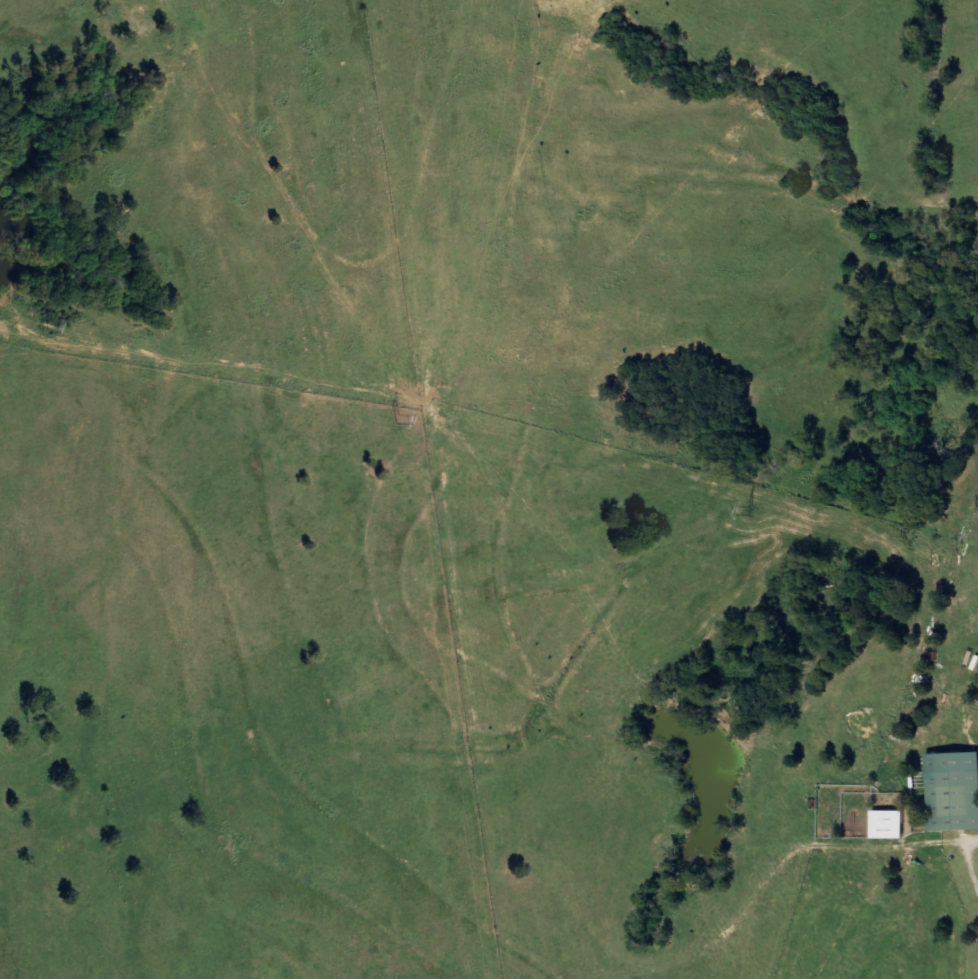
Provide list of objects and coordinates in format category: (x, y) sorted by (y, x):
power tower: (48, 326)
power tower: (396, 418)
power tower: (750, 510)
building: (955, 791)
building: (891, 825)

